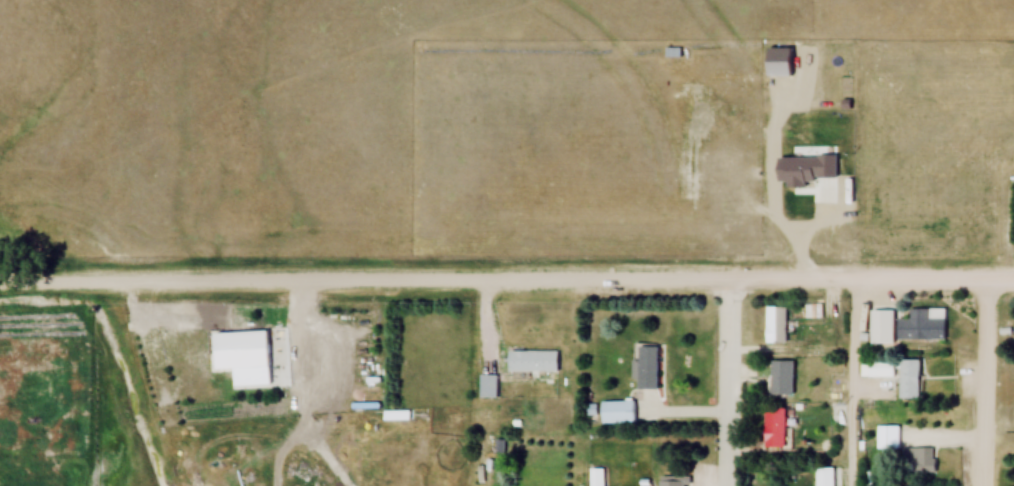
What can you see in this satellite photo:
road: (746, 284)
road: (239, 285)
building: (778, 325)
building: (923, 325)
road: (480, 347)
building: (242, 351)
building: (534, 361)
building: (648, 367)
building: (881, 368)
building: (784, 378)
building: (910, 379)
road: (983, 383)
road: (847, 384)
road: (723, 385)
building: (618, 412)
building: (396, 415)
building: (778, 429)
building: (887, 437)
building: (918, 460)
building: (597, 477)
building: (826, 477)
building: (673, 481)

